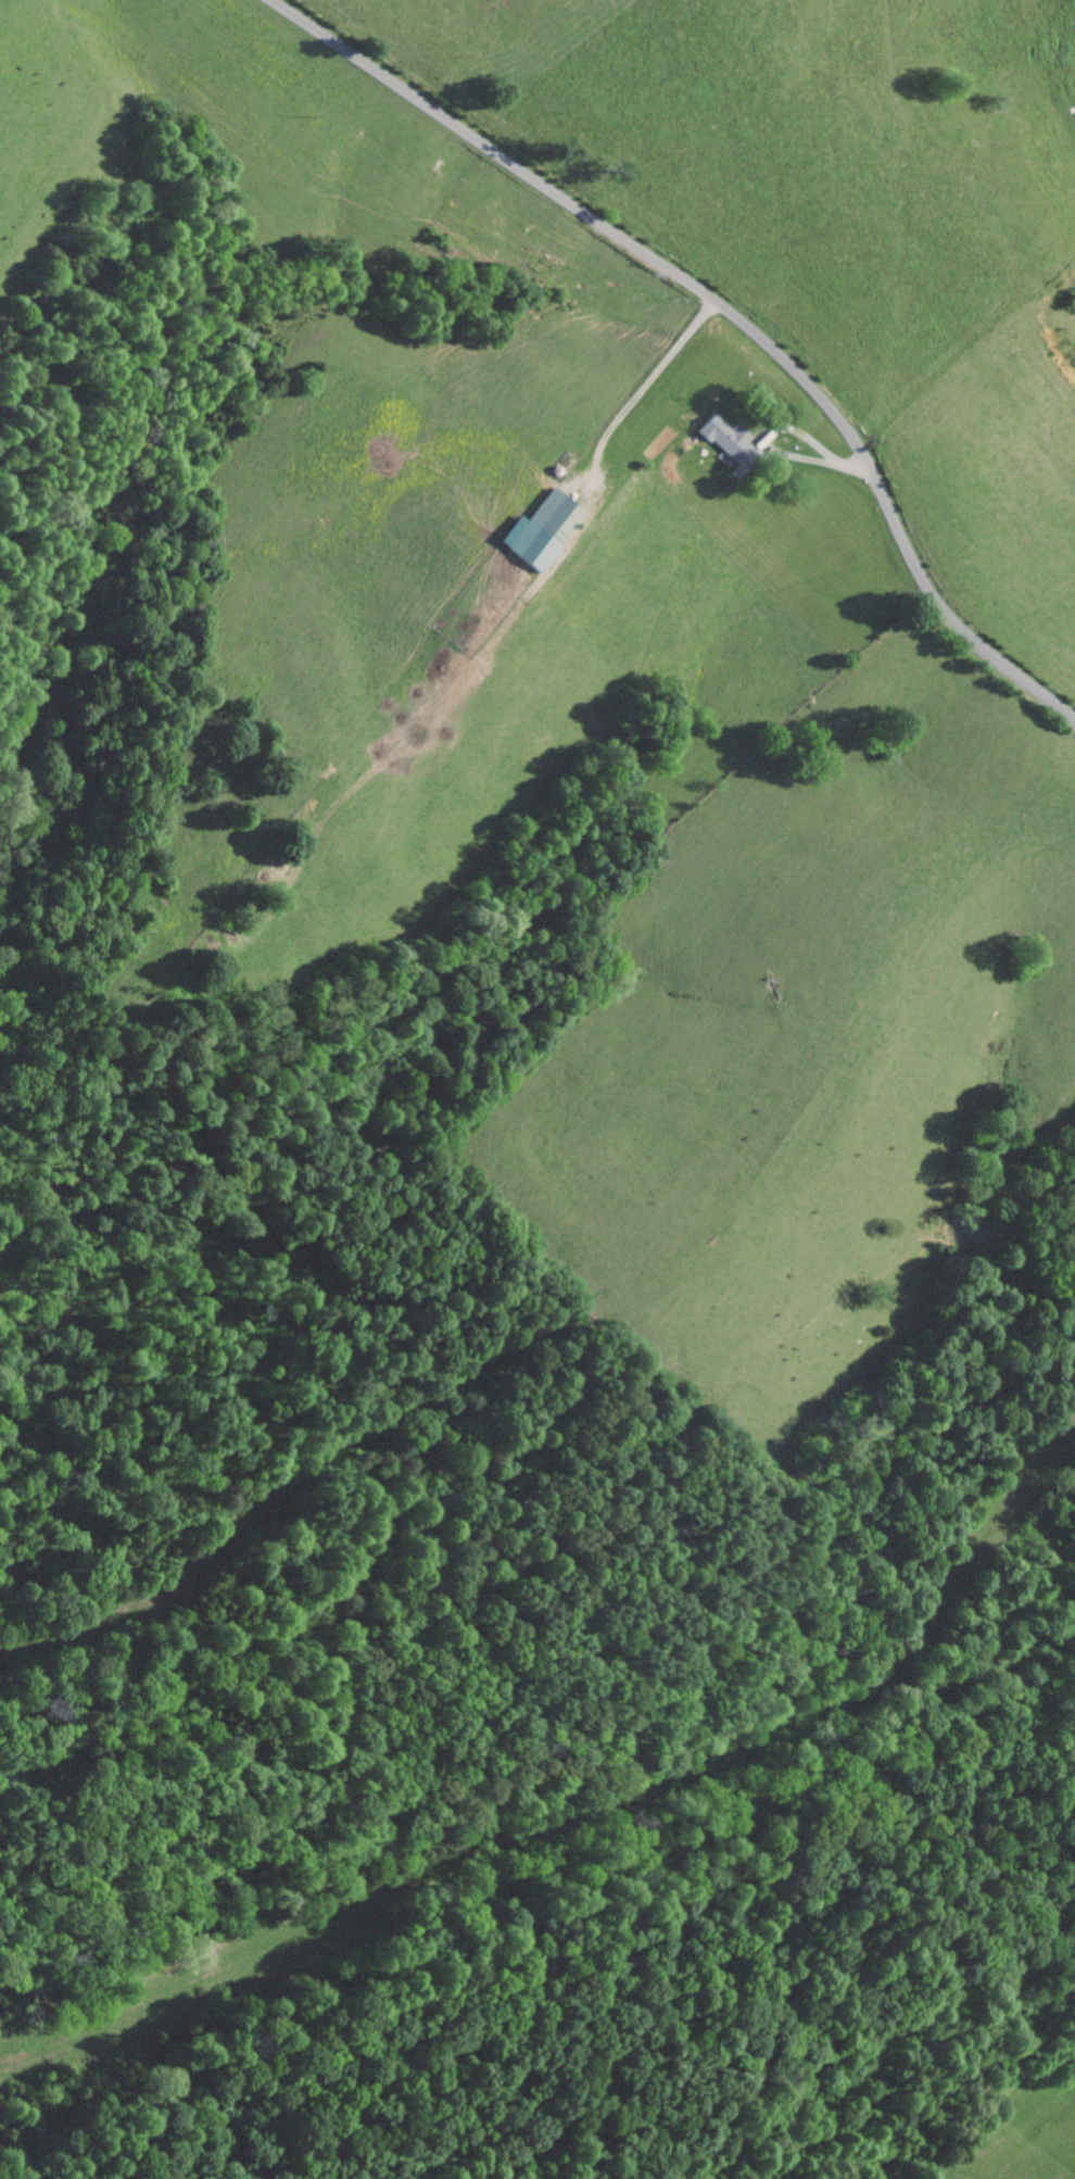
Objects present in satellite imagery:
road: (722, 308)
building: (737, 441)
building: (551, 529)

